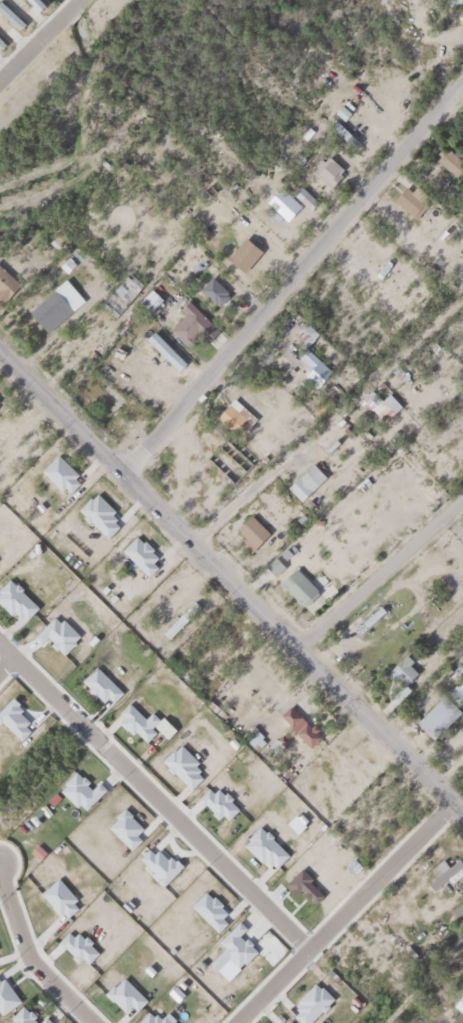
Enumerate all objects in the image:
building: (9, 13)
road: (37, 37)
building: (0, 40)
building: (341, 131)
building: (325, 166)
building: (302, 194)
building: (410, 195)
building: (241, 250)
road: (294, 275)
building: (5, 281)
building: (210, 285)
building: (119, 290)
building: (148, 296)
building: (53, 303)
building: (191, 324)
building: (303, 330)
building: (274, 359)
building: (378, 402)
building: (233, 413)
road: (326, 414)
building: (303, 478)
building: (250, 529)
road: (382, 573)
road: (232, 577)
building: (296, 582)
building: (371, 612)
building: (179, 615)
road: (7, 666)
building: (401, 666)
building: (442, 706)
building: (298, 723)
road: (156, 800)
road: (353, 915)
road: (27, 957)
building: (456, 1011)

